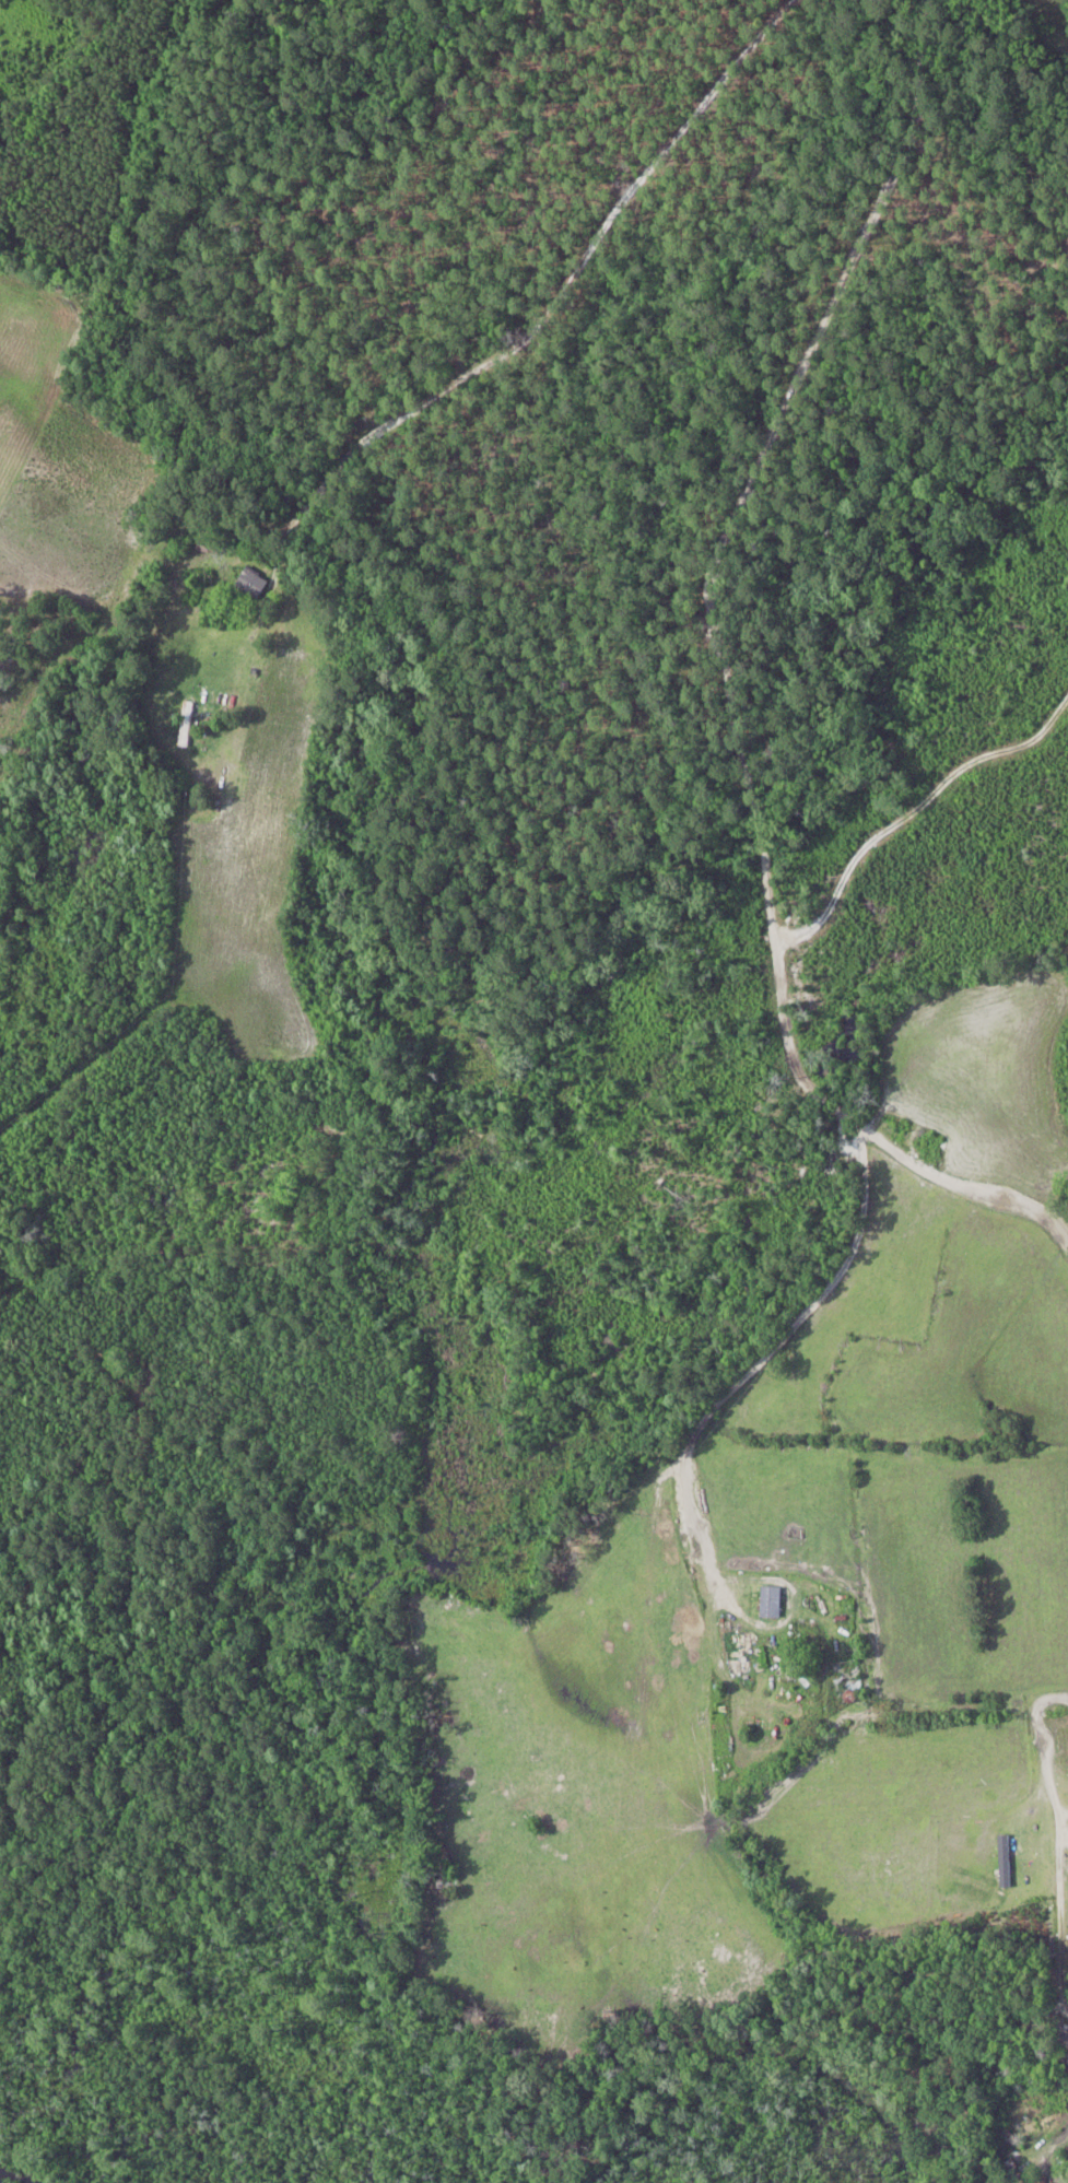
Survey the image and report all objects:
road: (414, 397)
road: (901, 482)
building: (253, 582)
building: (186, 723)
road: (783, 993)
road: (1033, 1500)
building: (771, 1601)
building: (847, 1675)
building: (445, 1881)

